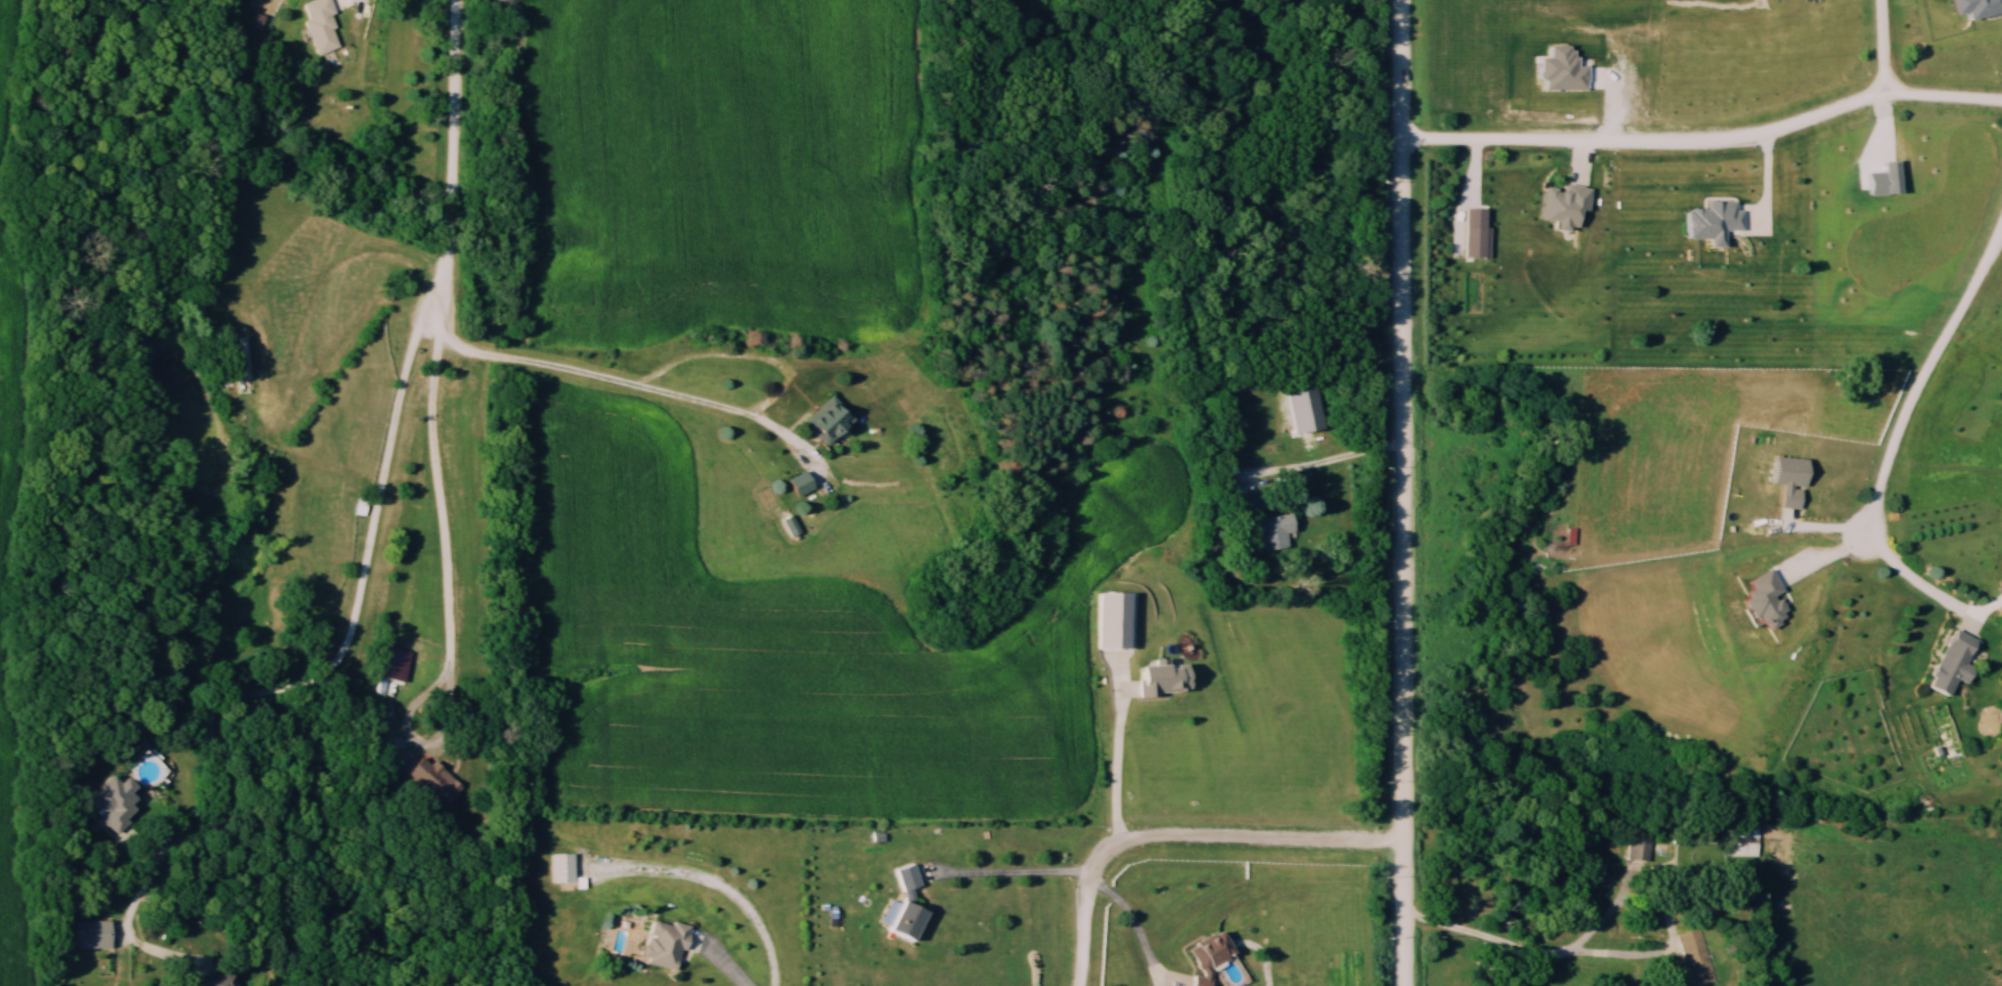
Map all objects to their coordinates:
building: (321, 25)
road: (1882, 49)
road: (1705, 143)
building: (1138, 247)
road: (442, 341)
road: (538, 363)
building: (242, 368)
road: (1919, 377)
road: (747, 414)
building: (832, 421)
road: (1333, 464)
building: (802, 484)
road: (1404, 492)
building: (1252, 505)
building: (1278, 534)
road: (1916, 579)
building: (1957, 663)
road: (322, 667)
building: (1168, 680)
road: (415, 744)
road: (1117, 757)
building: (435, 782)
building: (117, 803)
road: (1184, 834)
building: (1742, 840)
building: (1638, 847)
building: (564, 869)
road: (1016, 873)
road: (1633, 900)
building: (909, 906)
road: (1136, 925)
building: (92, 936)
road: (1486, 938)
building: (667, 945)
road: (1264, 956)
building: (1213, 957)
building: (1695, 958)
road: (722, 959)
building: (218, 980)

